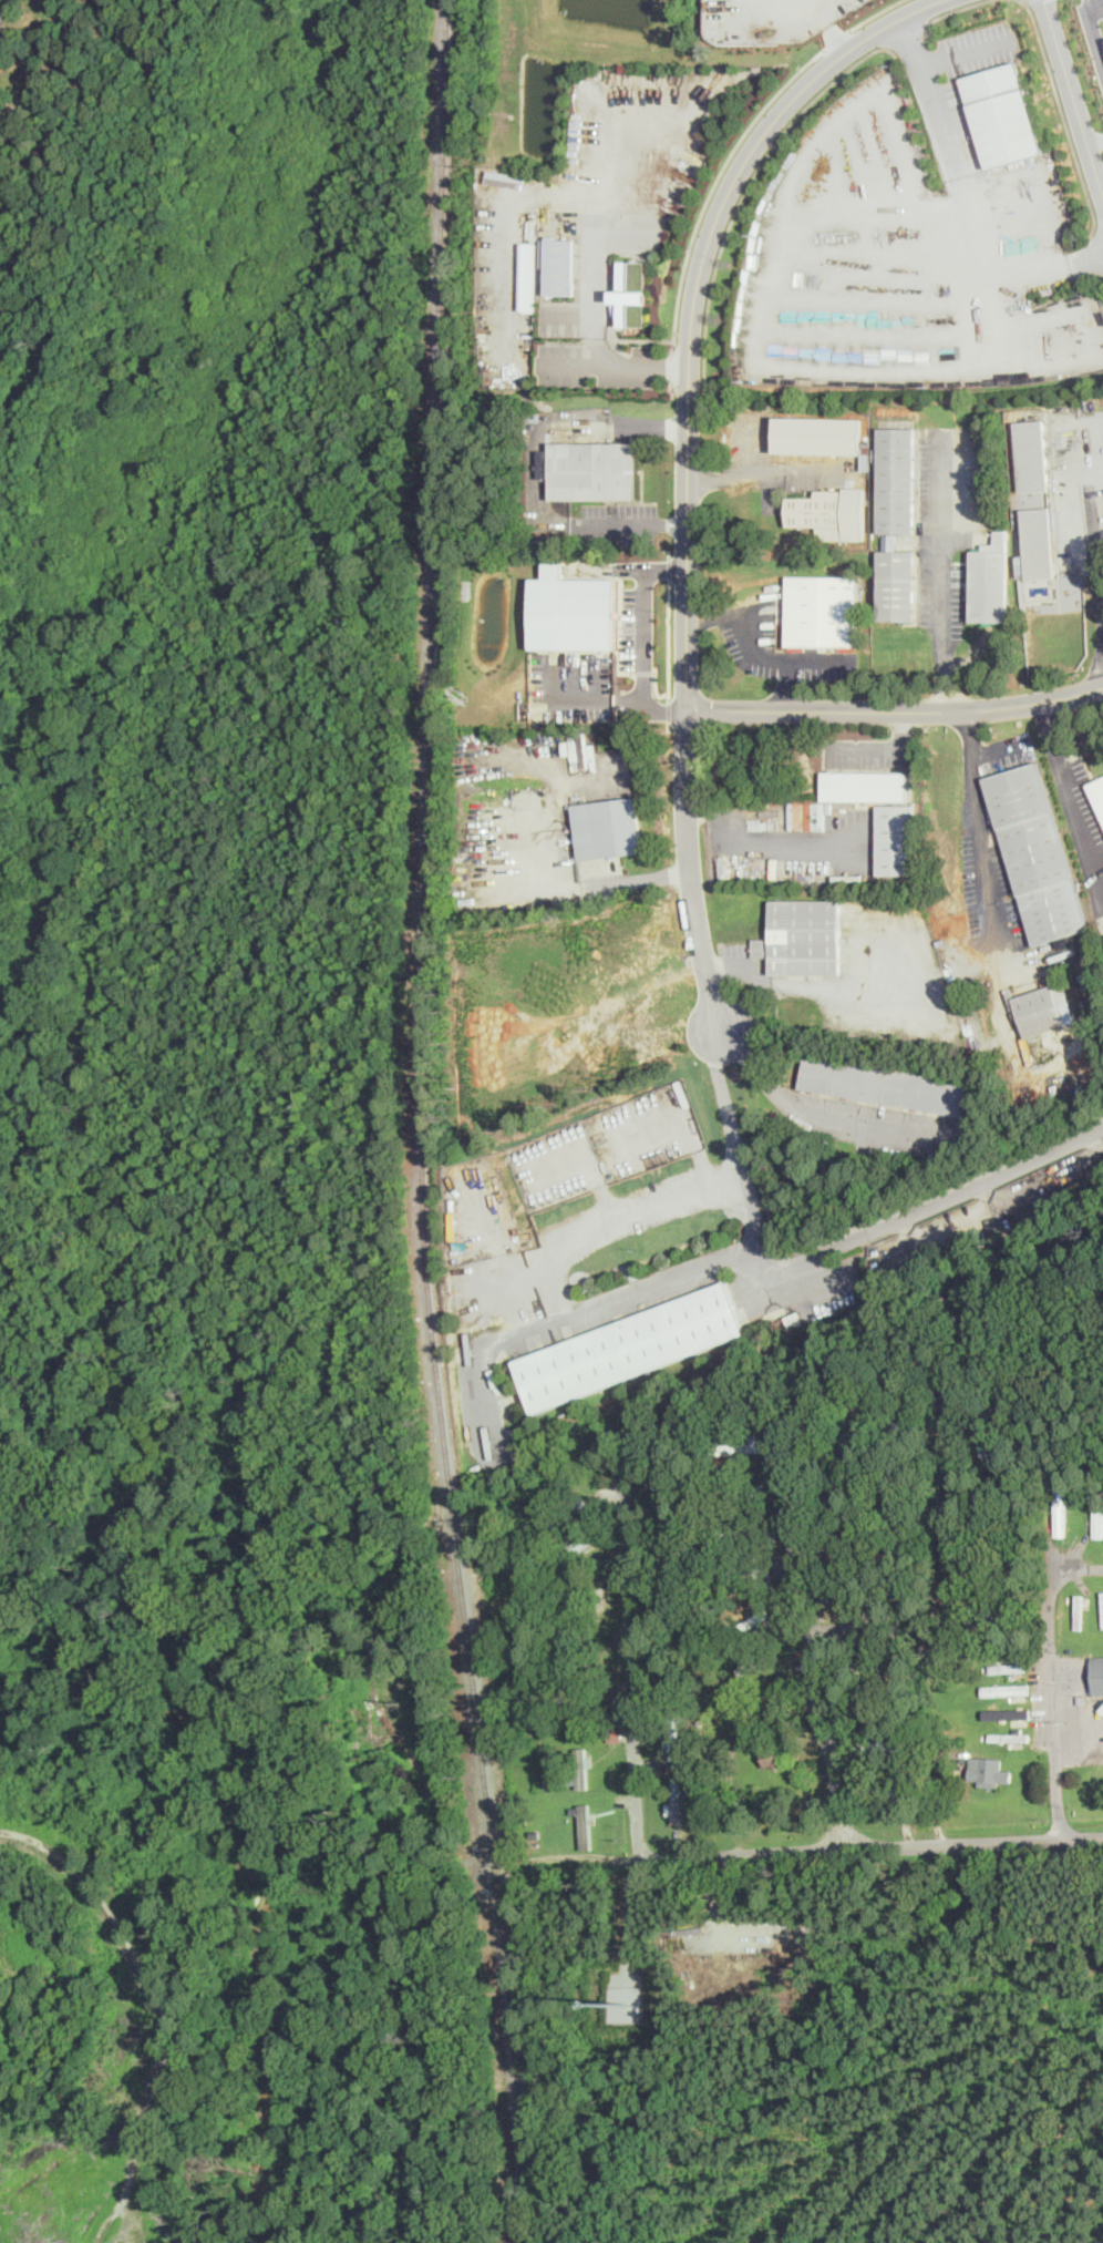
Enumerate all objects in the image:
building: (2, 10)
road: (949, 10)
road: (1092, 27)
road: (906, 34)
road: (965, 53)
road: (930, 93)
road: (1073, 102)
building: (1002, 114)
road: (1061, 116)
road: (740, 143)
road: (1094, 144)
road: (748, 191)
building: (563, 265)
building: (532, 275)
road: (595, 290)
building: (636, 294)
road: (693, 304)
road: (616, 362)
building: (822, 437)
road: (748, 445)
building: (1031, 454)
building: (595, 470)
road: (817, 470)
road: (736, 474)
building: (895, 479)
building: (815, 509)
road: (633, 524)
road: (1093, 529)
building: (1039, 542)
road: (669, 567)
road: (940, 576)
building: (896, 584)
building: (988, 585)
building: (821, 611)
building: (574, 612)
road: (640, 615)
road: (714, 617)
road: (669, 638)
road: (782, 657)
road: (786, 684)
road: (612, 708)
road: (895, 710)
road: (886, 748)
building: (864, 785)
building: (1097, 790)
road: (1071, 801)
building: (605, 827)
road: (980, 830)
building: (894, 838)
road: (764, 840)
building: (1035, 852)
road: (646, 875)
building: (802, 936)
road: (794, 984)
building: (1044, 1008)
building: (888, 1084)
road: (805, 1108)
railway: (419, 1124)
road: (743, 1177)
road: (554, 1279)
building: (628, 1345)
building: (743, 1446)
building: (1097, 1513)
road: (955, 1538)
road: (817, 1633)
road: (630, 1667)
building: (1008, 1668)
building: (1096, 1674)
road: (1055, 1681)
building: (1013, 1691)
building: (1009, 1737)
building: (579, 1768)
building: (987, 1770)
road: (872, 1846)

